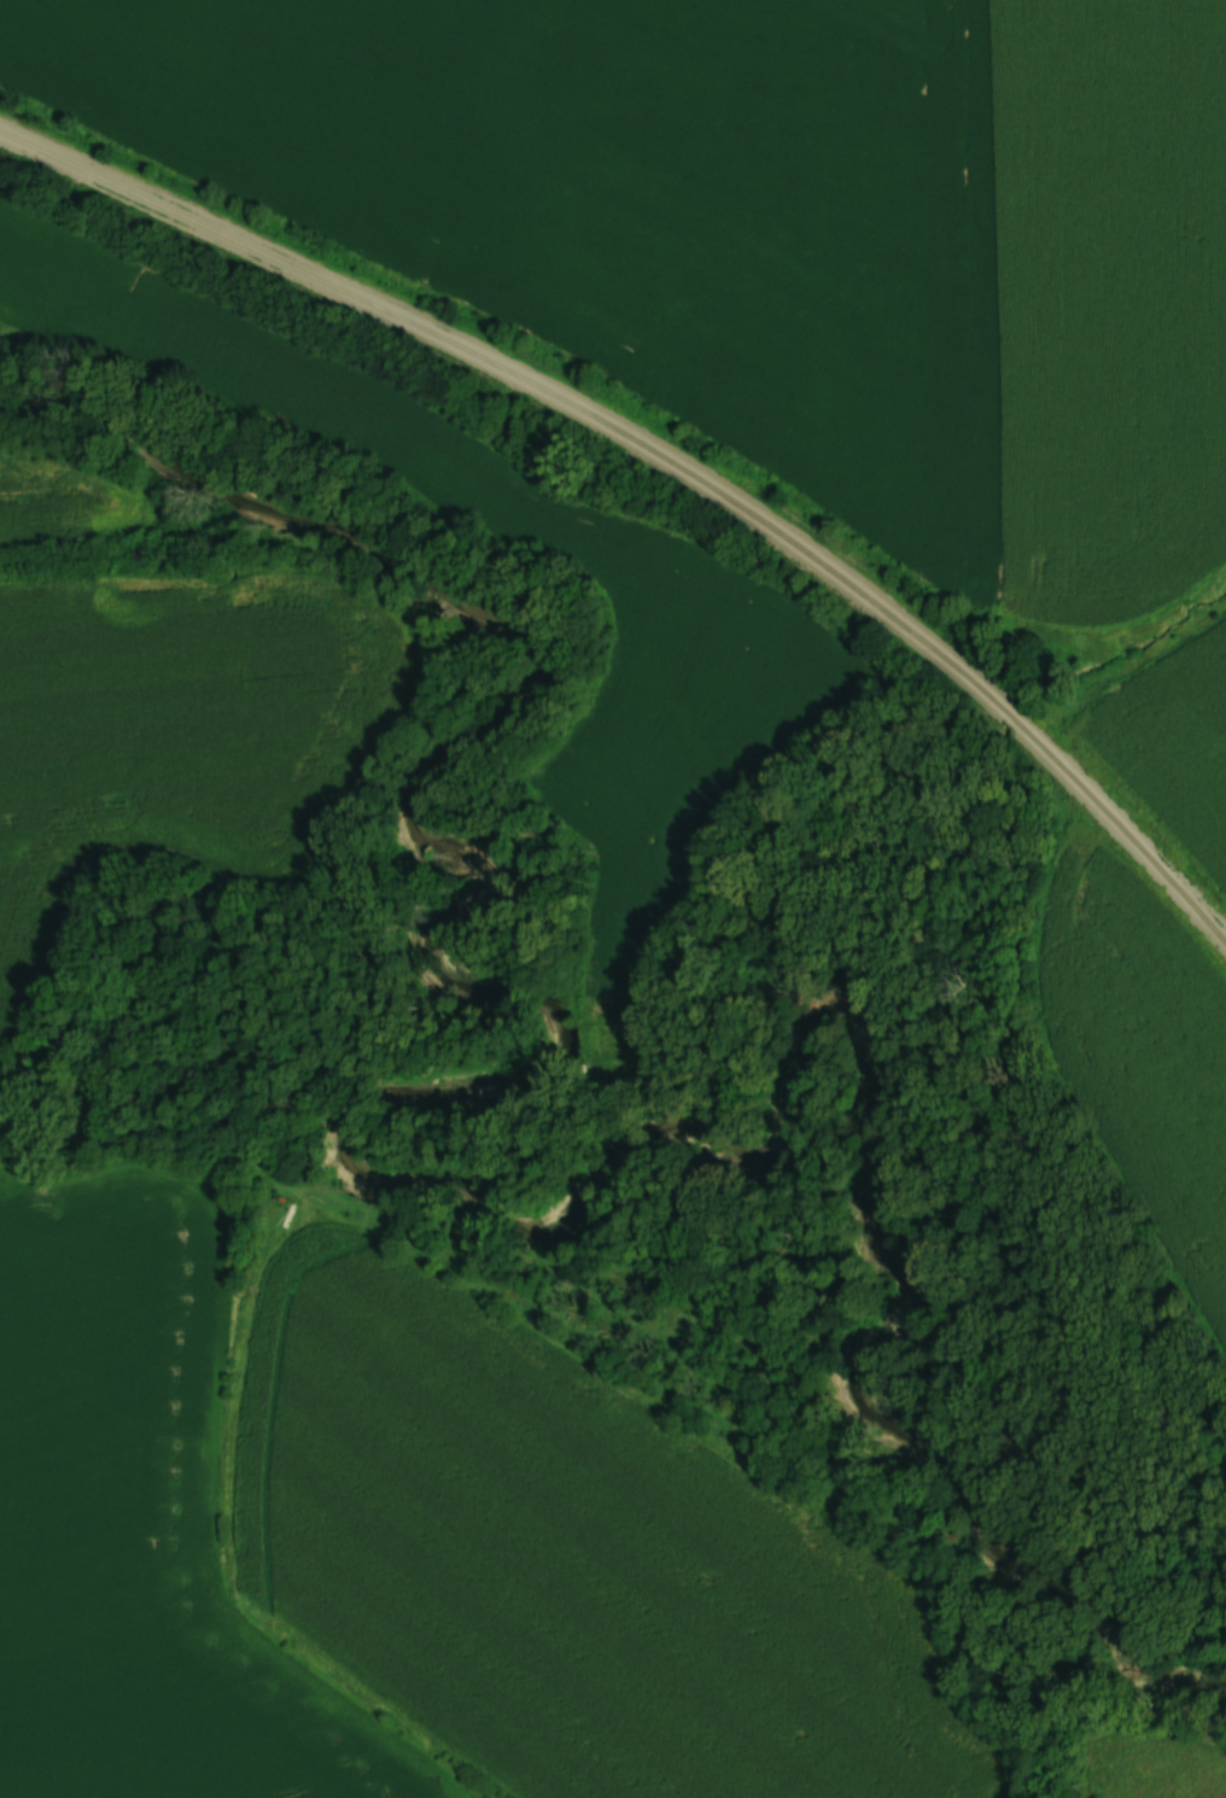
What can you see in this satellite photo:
railway: (662, 456)

